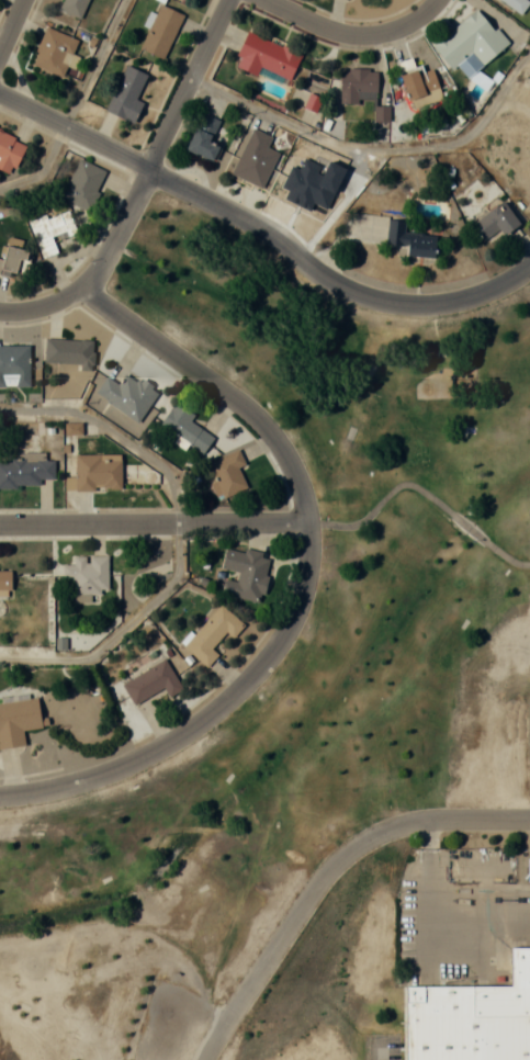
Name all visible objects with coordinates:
building: (517, 4)
building: (74, 7)
road: (11, 23)
road: (351, 35)
building: (470, 41)
building: (54, 52)
building: (266, 57)
building: (358, 86)
building: (421, 87)
building: (127, 94)
road: (72, 106)
road: (74, 129)
building: (213, 132)
road: (377, 148)
building: (10, 151)
building: (256, 159)
road: (139, 183)
building: (83, 184)
building: (497, 221)
building: (50, 230)
building: (410, 239)
building: (14, 261)
road: (329, 280)
building: (68, 351)
park: (523, 352)
park: (335, 360)
building: (14, 365)
building: (127, 395)
building: (187, 428)
road: (494, 459)
building: (25, 471)
building: (95, 473)
building: (228, 473)
road: (421, 492)
road: (498, 510)
road: (154, 522)
road: (179, 533)
building: (88, 573)
building: (245, 573)
road: (305, 579)
building: (4, 582)
building: (211, 634)
road: (294, 664)
building: (151, 681)
building: (18, 719)
road: (390, 719)
parking lot: (528, 751)
park: (272, 779)
road: (230, 796)
road: (460, 816)
road: (189, 828)
road: (180, 849)
building: (528, 869)
road: (34, 882)
road: (284, 931)
road: (147, 936)
road: (171, 997)
road: (37, 1013)
building: (472, 1017)
parking lot: (159, 1020)

